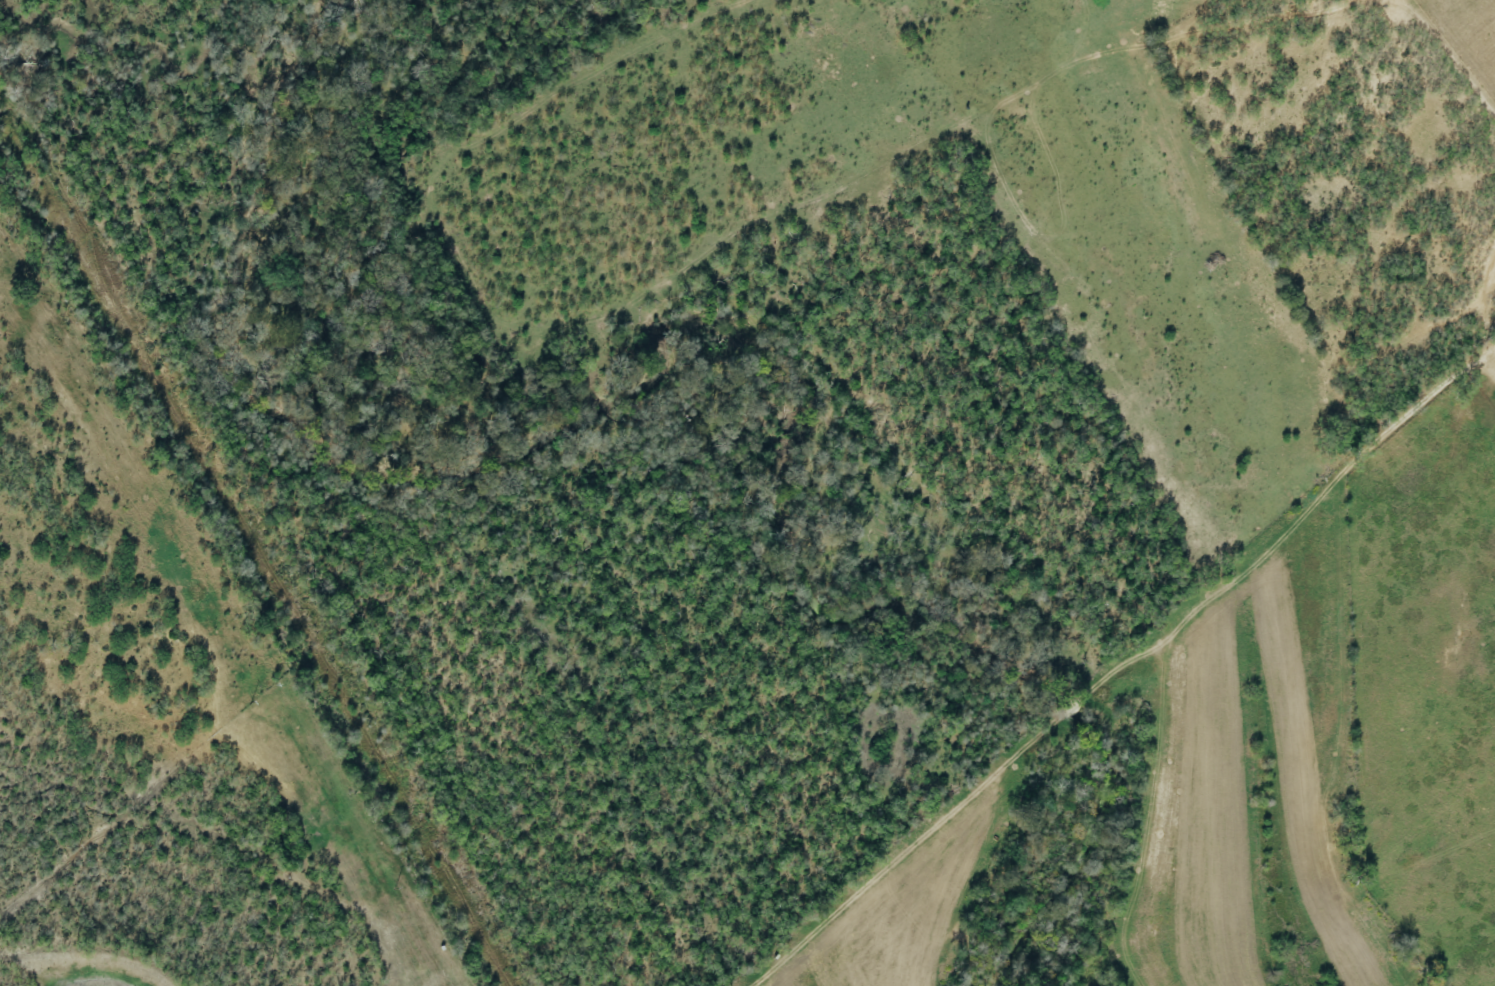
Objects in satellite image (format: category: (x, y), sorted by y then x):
road: (1126, 670)

